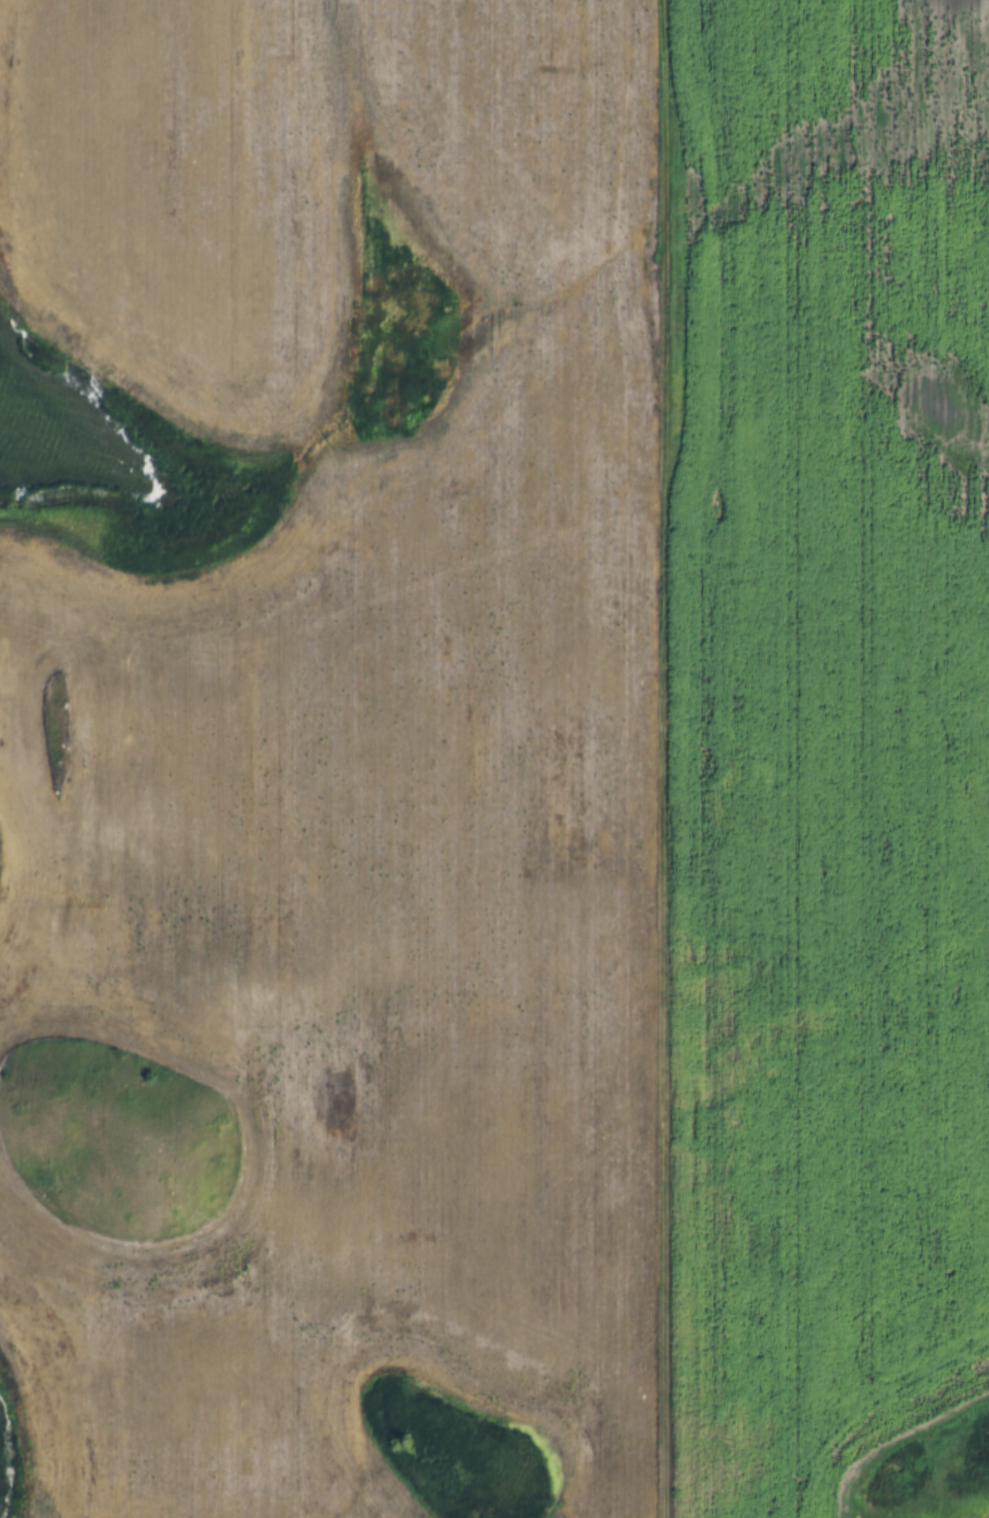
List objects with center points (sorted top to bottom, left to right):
road: (662, 759)

